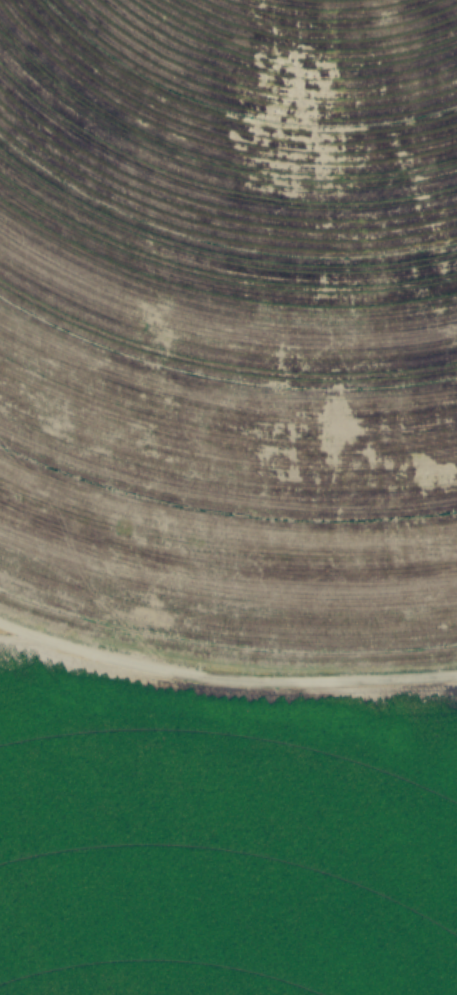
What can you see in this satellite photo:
road: (224, 680)

